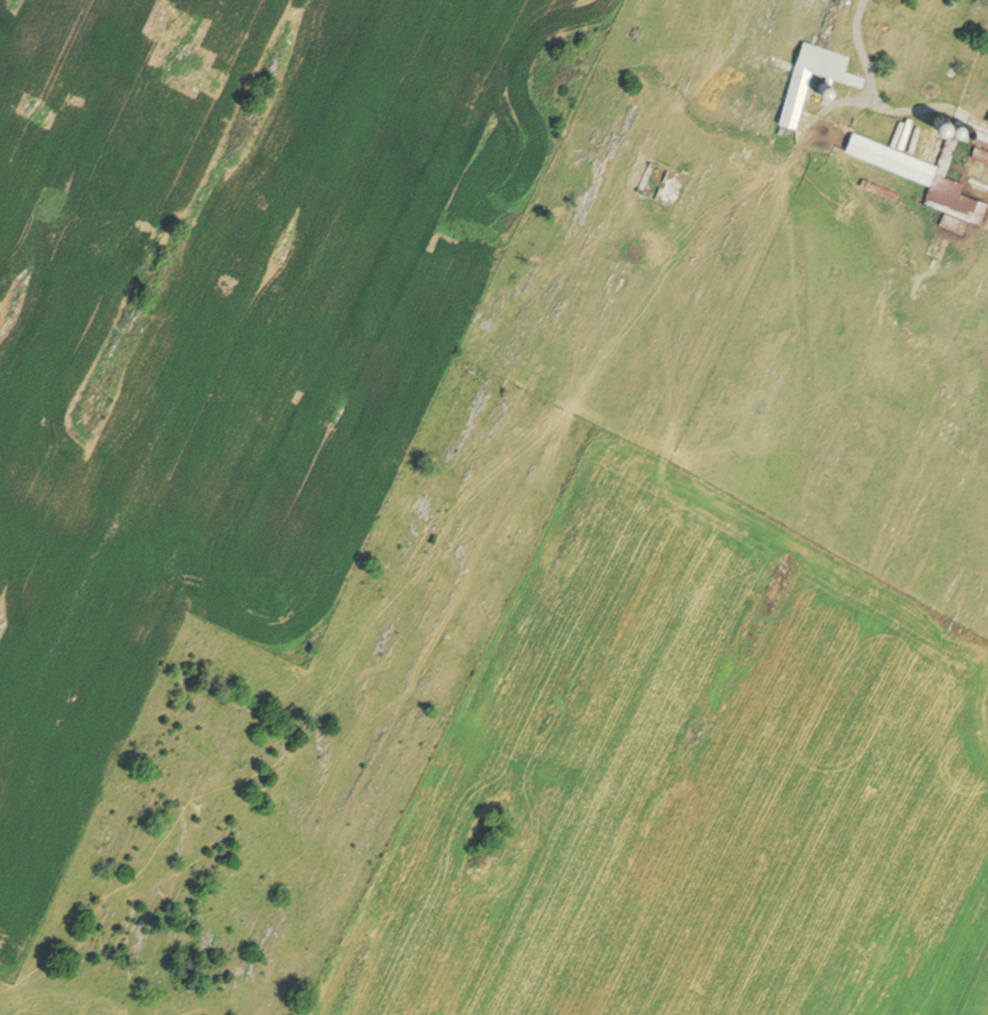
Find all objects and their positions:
road: (863, 41)

